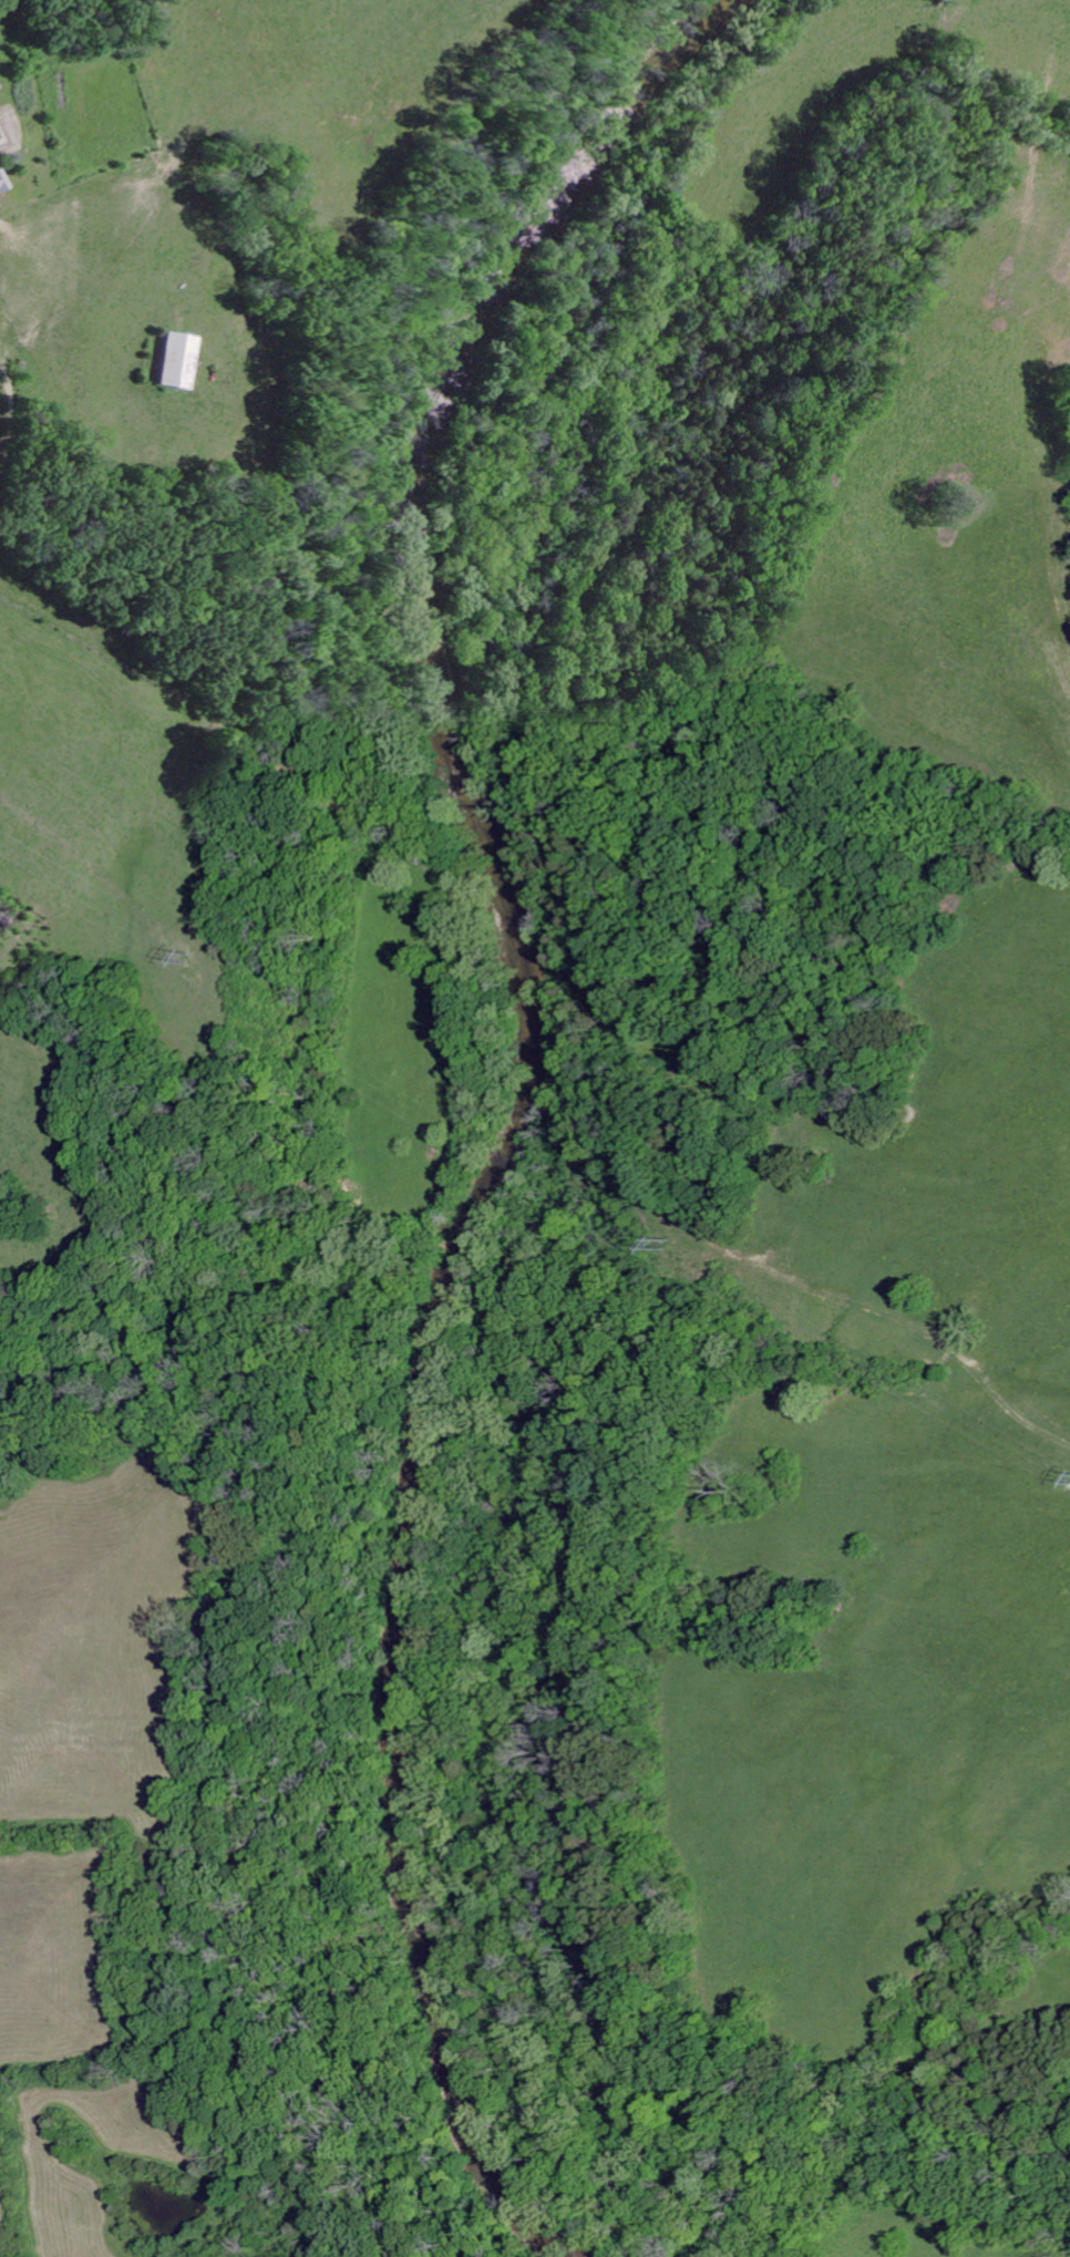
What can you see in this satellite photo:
building: (1, 185)
building: (175, 359)
power tower: (178, 956)
power tower: (661, 1241)

